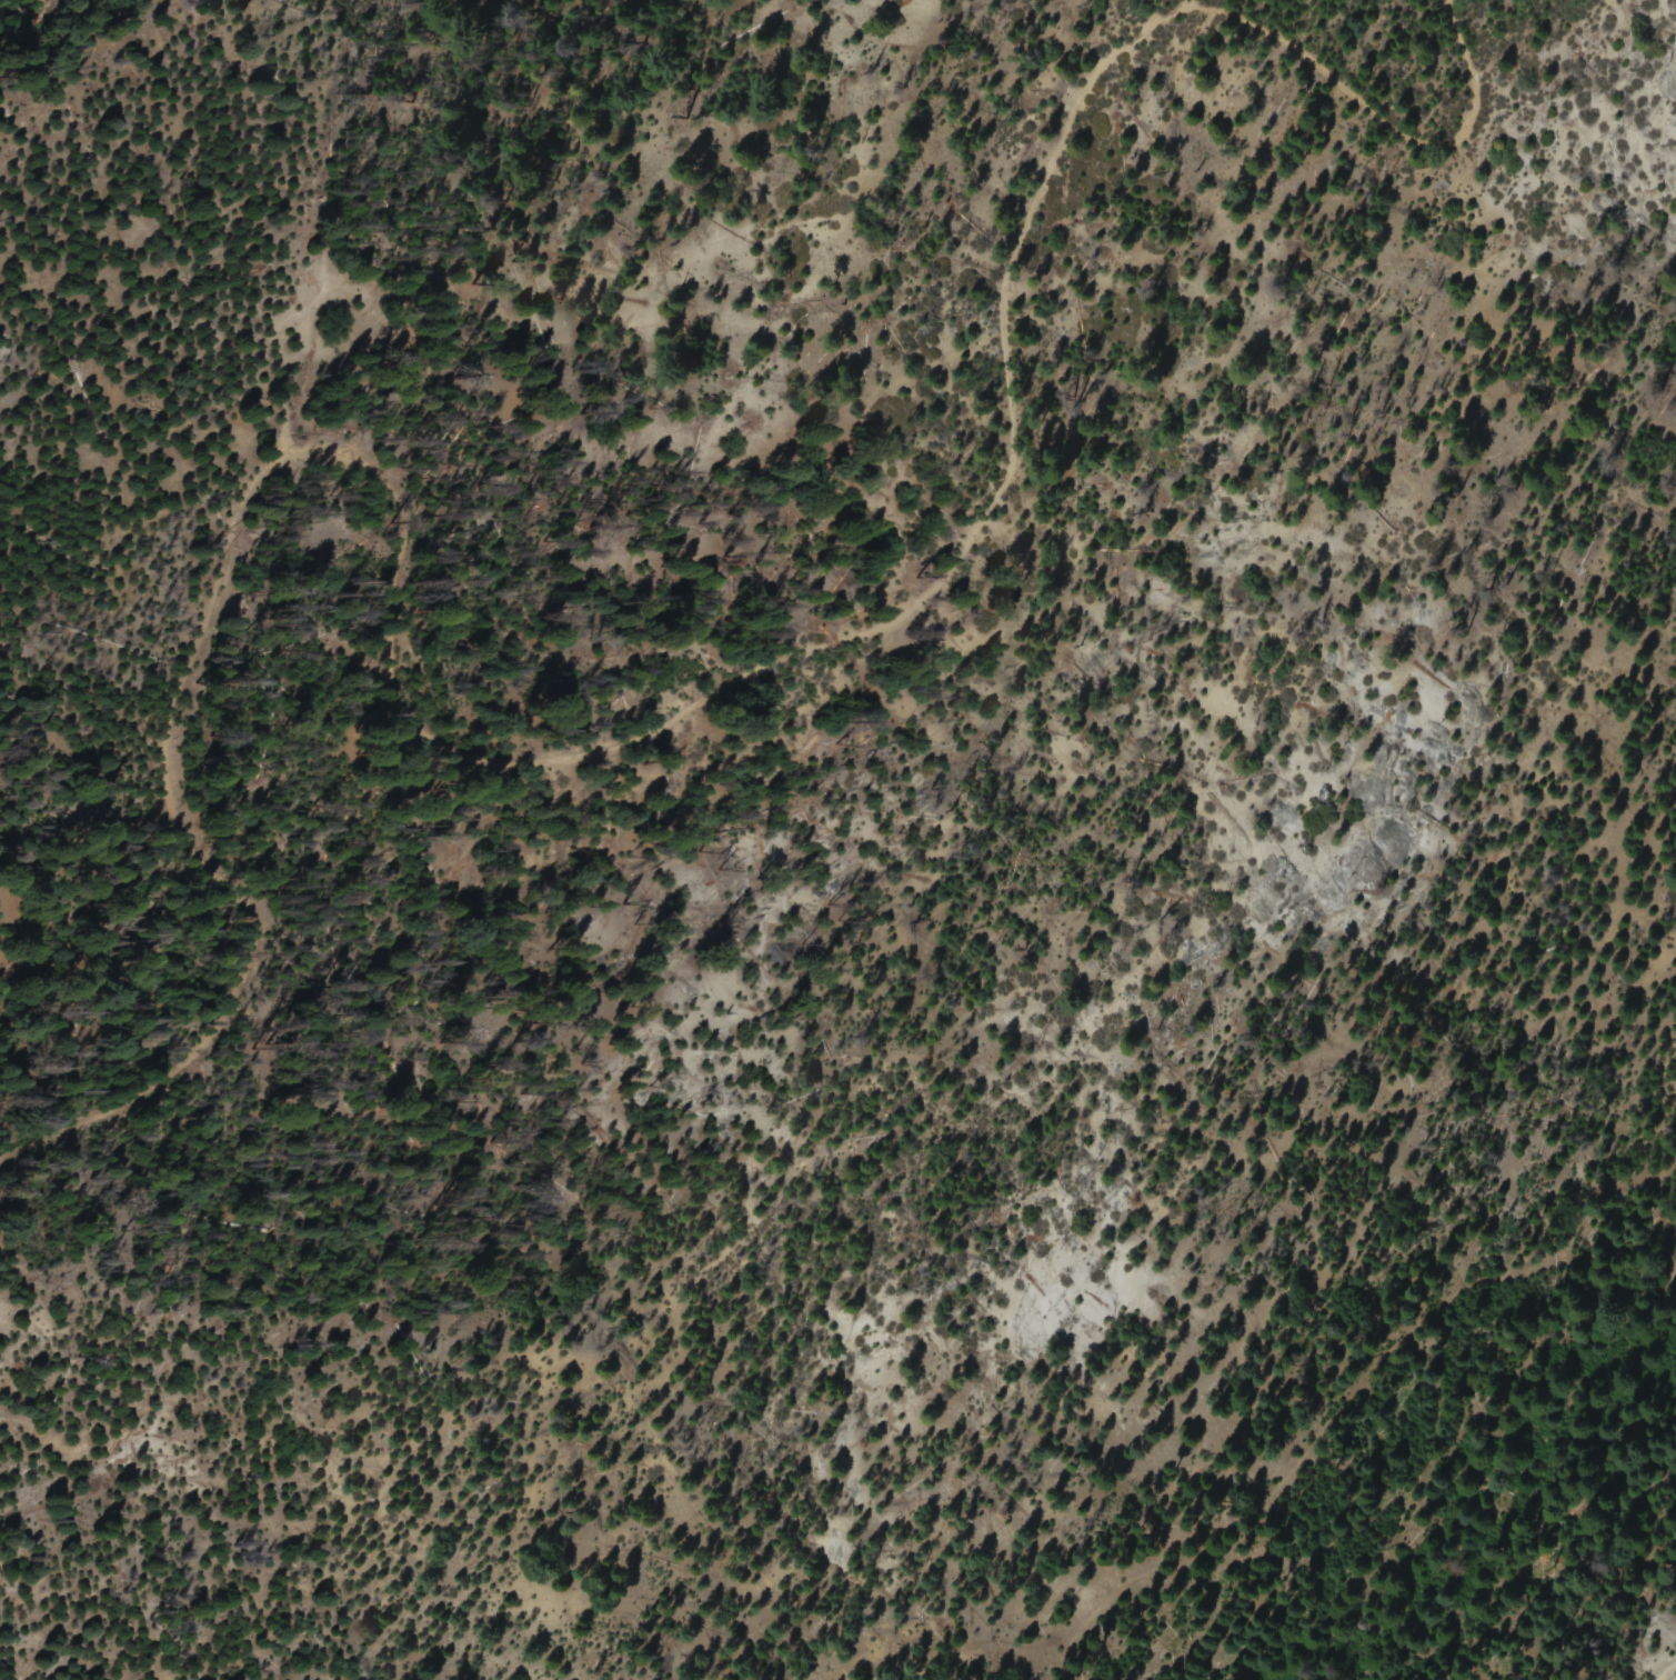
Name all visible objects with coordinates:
road: (611, 743)
road: (1667, 1672)

